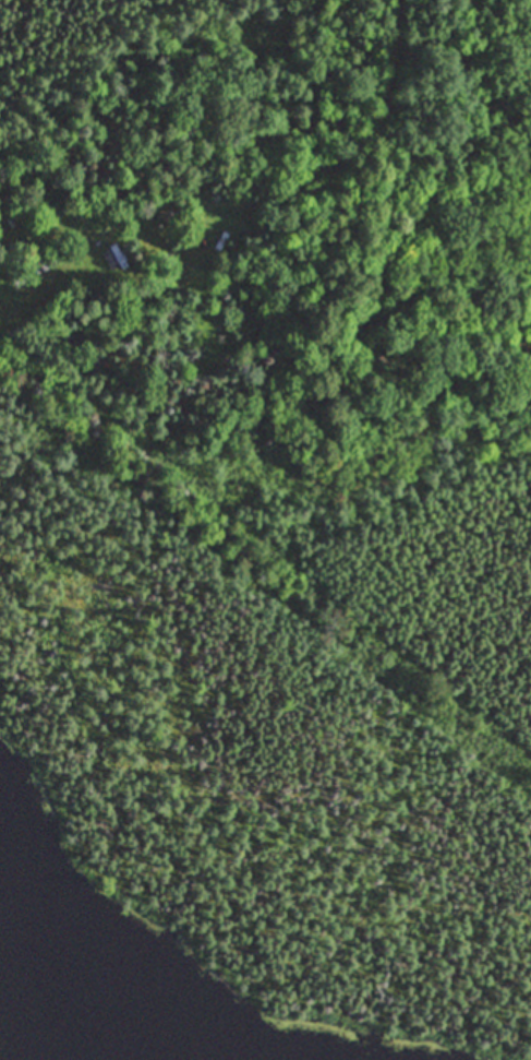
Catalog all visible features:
building: (118, 257)

